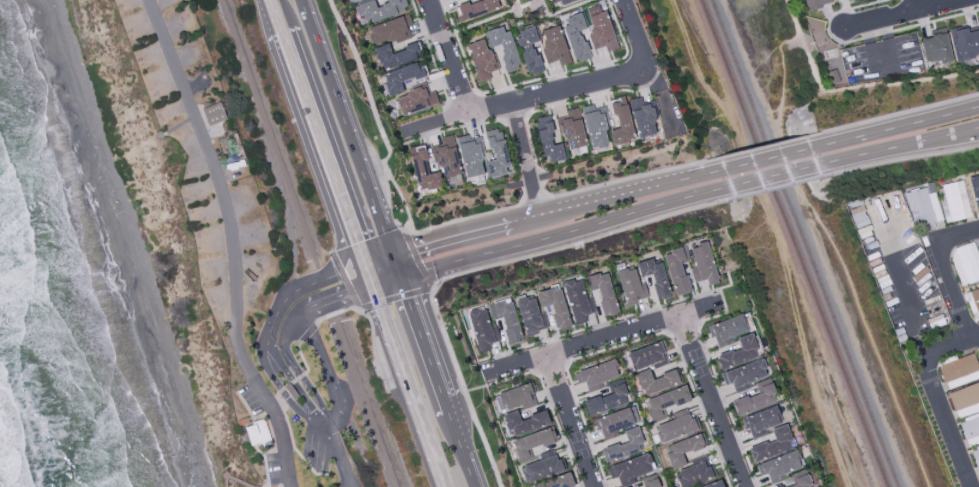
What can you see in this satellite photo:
building: (361, 0)
building: (849, 0)
road: (270, 1)
building: (562, 1)
building: (815, 3)
road: (919, 3)
building: (476, 8)
building: (379, 9)
road: (892, 13)
road: (831, 15)
road: (935, 20)
building: (390, 30)
road: (633, 30)
building: (600, 31)
road: (875, 35)
building: (575, 38)
building: (966, 42)
road: (880, 44)
building: (553, 45)
building: (502, 46)
building: (937, 49)
building: (529, 51)
building: (394, 56)
road: (450, 56)
building: (480, 59)
building: (399, 78)
road: (871, 84)
road: (529, 99)
building: (414, 101)
road: (308, 105)
road: (897, 113)
building: (213, 114)
road: (375, 115)
building: (642, 118)
building: (620, 123)
road: (899, 126)
building: (594, 127)
building: (571, 130)
road: (520, 132)
road: (689, 134)
road: (352, 140)
building: (547, 142)
road: (764, 146)
road: (902, 147)
building: (496, 154)
building: (445, 156)
building: (469, 157)
road: (768, 158)
road: (904, 160)
building: (423, 170)
road: (774, 176)
road: (619, 180)
road: (530, 181)
road: (777, 187)
road: (532, 189)
road: (627, 193)
building: (975, 196)
road: (534, 197)
building: (955, 201)
building: (924, 210)
building: (860, 217)
road: (460, 221)
road: (562, 233)
road: (465, 235)
road: (773, 237)
road: (829, 239)
road: (230, 242)
road: (310, 243)
railway: (794, 243)
railway: (804, 243)
building: (978, 245)
road: (322, 251)
traffic signals: (394, 255)
road: (379, 259)
building: (966, 263)
traffic signals: (365, 264)
building: (702, 265)
parking lot: (897, 265)
road: (475, 270)
building: (677, 270)
road: (945, 270)
building: (653, 276)
traffic signals: (403, 280)
road: (730, 284)
traffic signals: (372, 286)
building: (601, 292)
road: (708, 292)
road: (903, 294)
road: (398, 296)
building: (575, 302)
building: (973, 302)
building: (554, 307)
building: (530, 316)
road: (273, 317)
road: (290, 318)
building: (505, 319)
road: (369, 324)
building: (480, 329)
building: (726, 330)
road: (306, 333)
road: (423, 339)
road: (604, 339)
road: (634, 341)
road: (946, 345)
road: (394, 347)
building: (978, 351)
building: (736, 353)
road: (301, 357)
building: (647, 357)
road: (326, 366)
building: (960, 371)
building: (745, 373)
building: (596, 375)
road: (291, 380)
building: (655, 381)
road: (289, 382)
building: (290, 392)
road: (545, 395)
building: (516, 397)
building: (754, 399)
building: (966, 399)
parking lot: (251, 400)
building: (606, 400)
building: (665, 401)
road: (710, 402)
road: (445, 406)
road: (271, 410)
road: (572, 421)
building: (762, 421)
building: (523, 422)
building: (614, 422)
building: (674, 428)
road: (946, 428)
road: (269, 431)
building: (969, 431)
building: (258, 435)
road: (291, 442)
building: (531, 443)
building: (622, 445)
building: (772, 445)
building: (683, 449)
road: (461, 450)
parking lot: (313, 452)
road: (338, 456)
building: (975, 461)
parking lot: (273, 468)
building: (541, 468)
building: (781, 468)
building: (630, 469)
building: (693, 475)
building: (554, 482)
building: (651, 482)
building: (797, 482)
road: (285, 483)
building: (713, 484)

